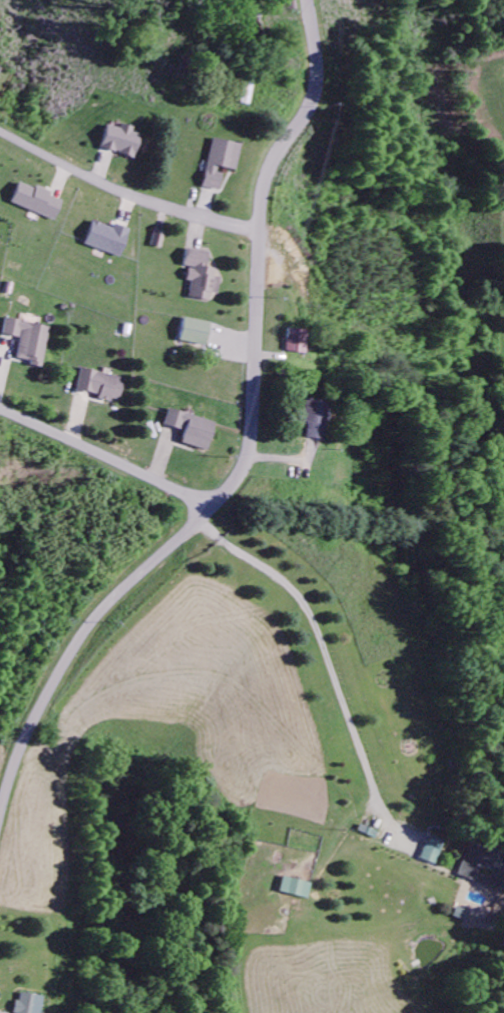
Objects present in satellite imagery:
building: (0, 68)
building: (123, 142)
building: (222, 163)
building: (37, 202)
building: (108, 240)
building: (159, 240)
building: (201, 277)
building: (195, 333)
building: (28, 342)
building: (297, 342)
building: (100, 386)
building: (318, 420)
building: (191, 430)
road: (248, 434)
road: (103, 459)
building: (433, 852)
building: (483, 869)
building: (293, 890)
building: (460, 916)
building: (28, 1005)

